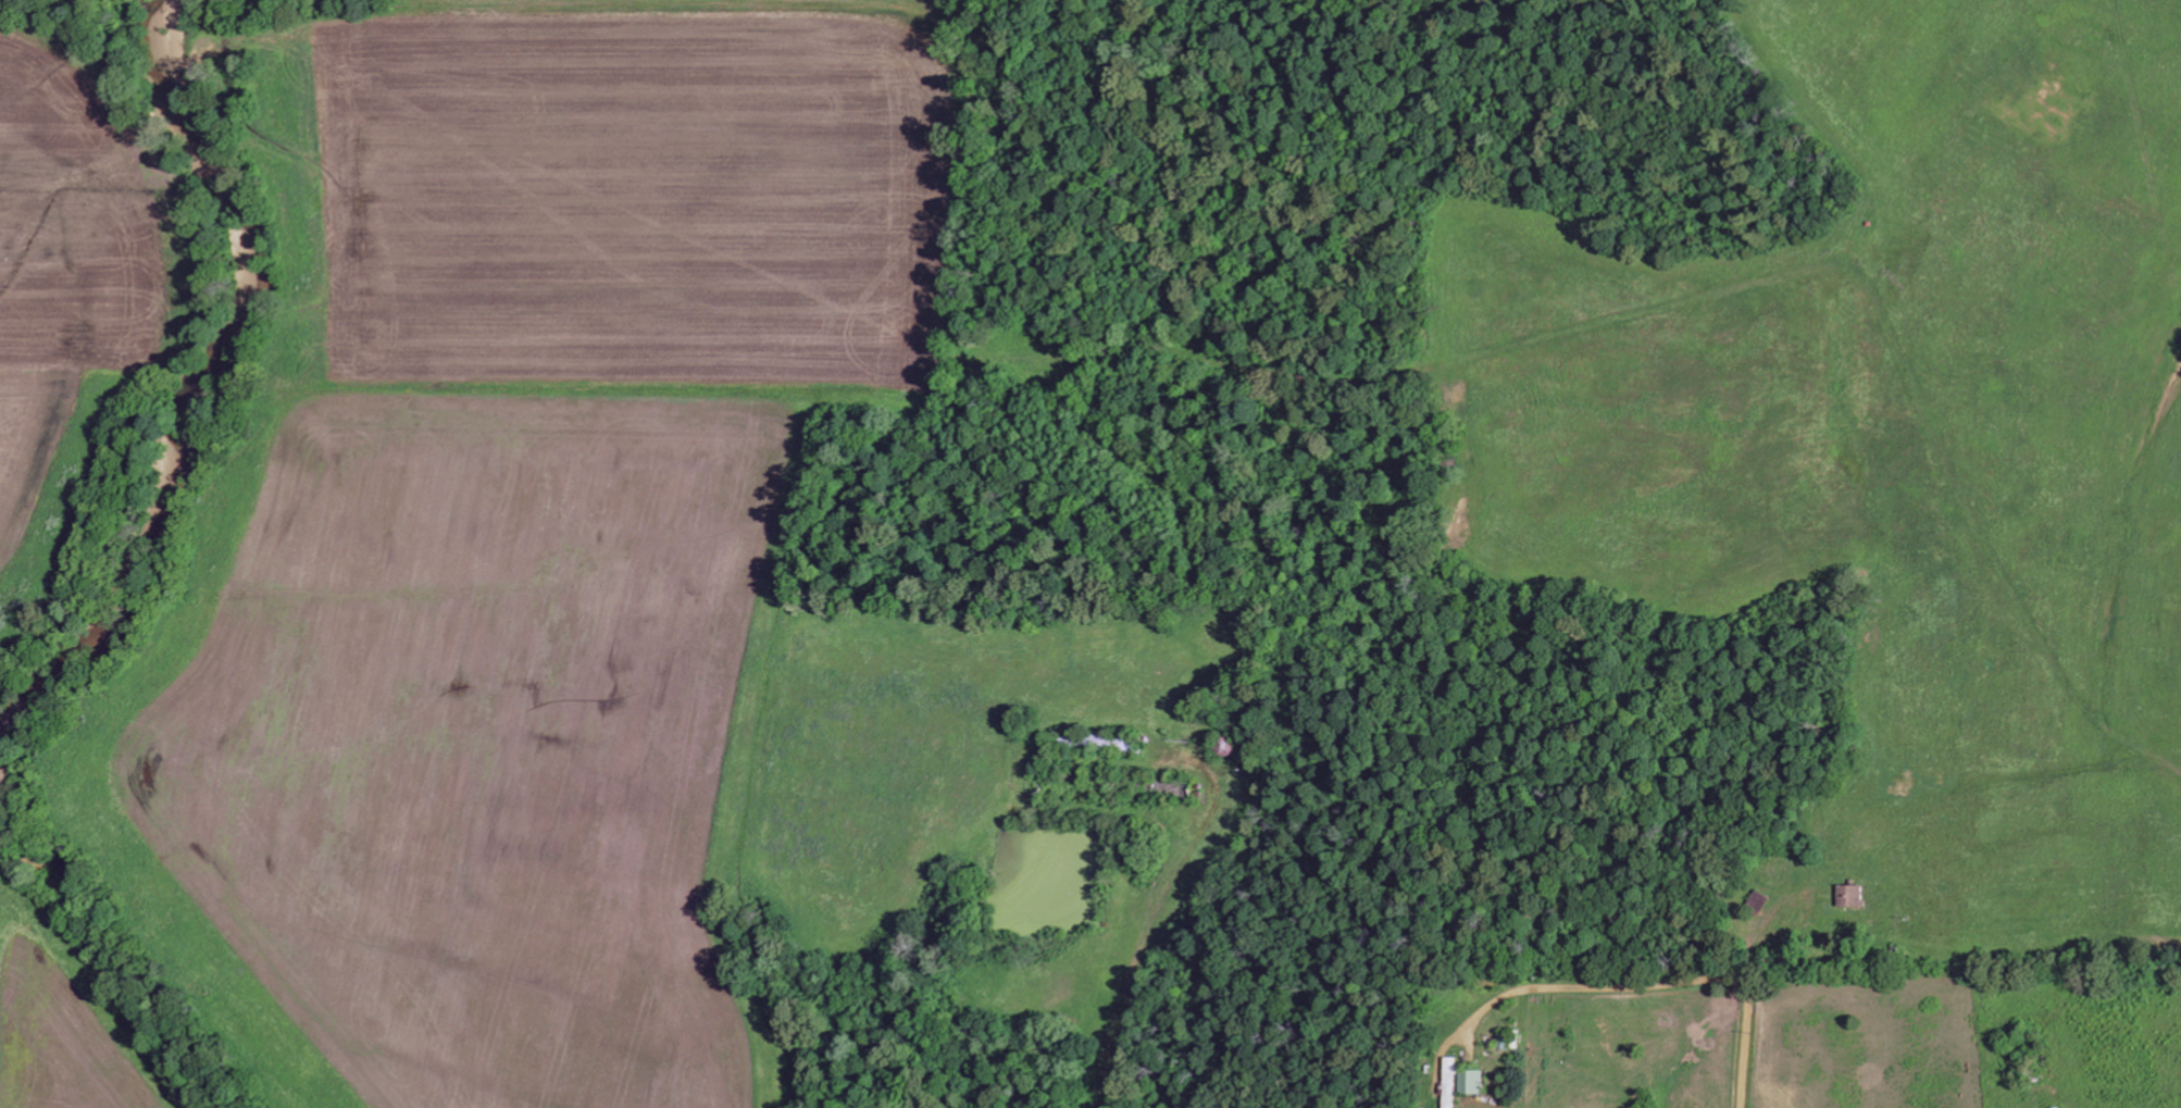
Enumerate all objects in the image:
road: (1710, 789)
building: (1847, 895)
road: (1769, 951)
building: (1448, 1082)
building: (1469, 1082)

